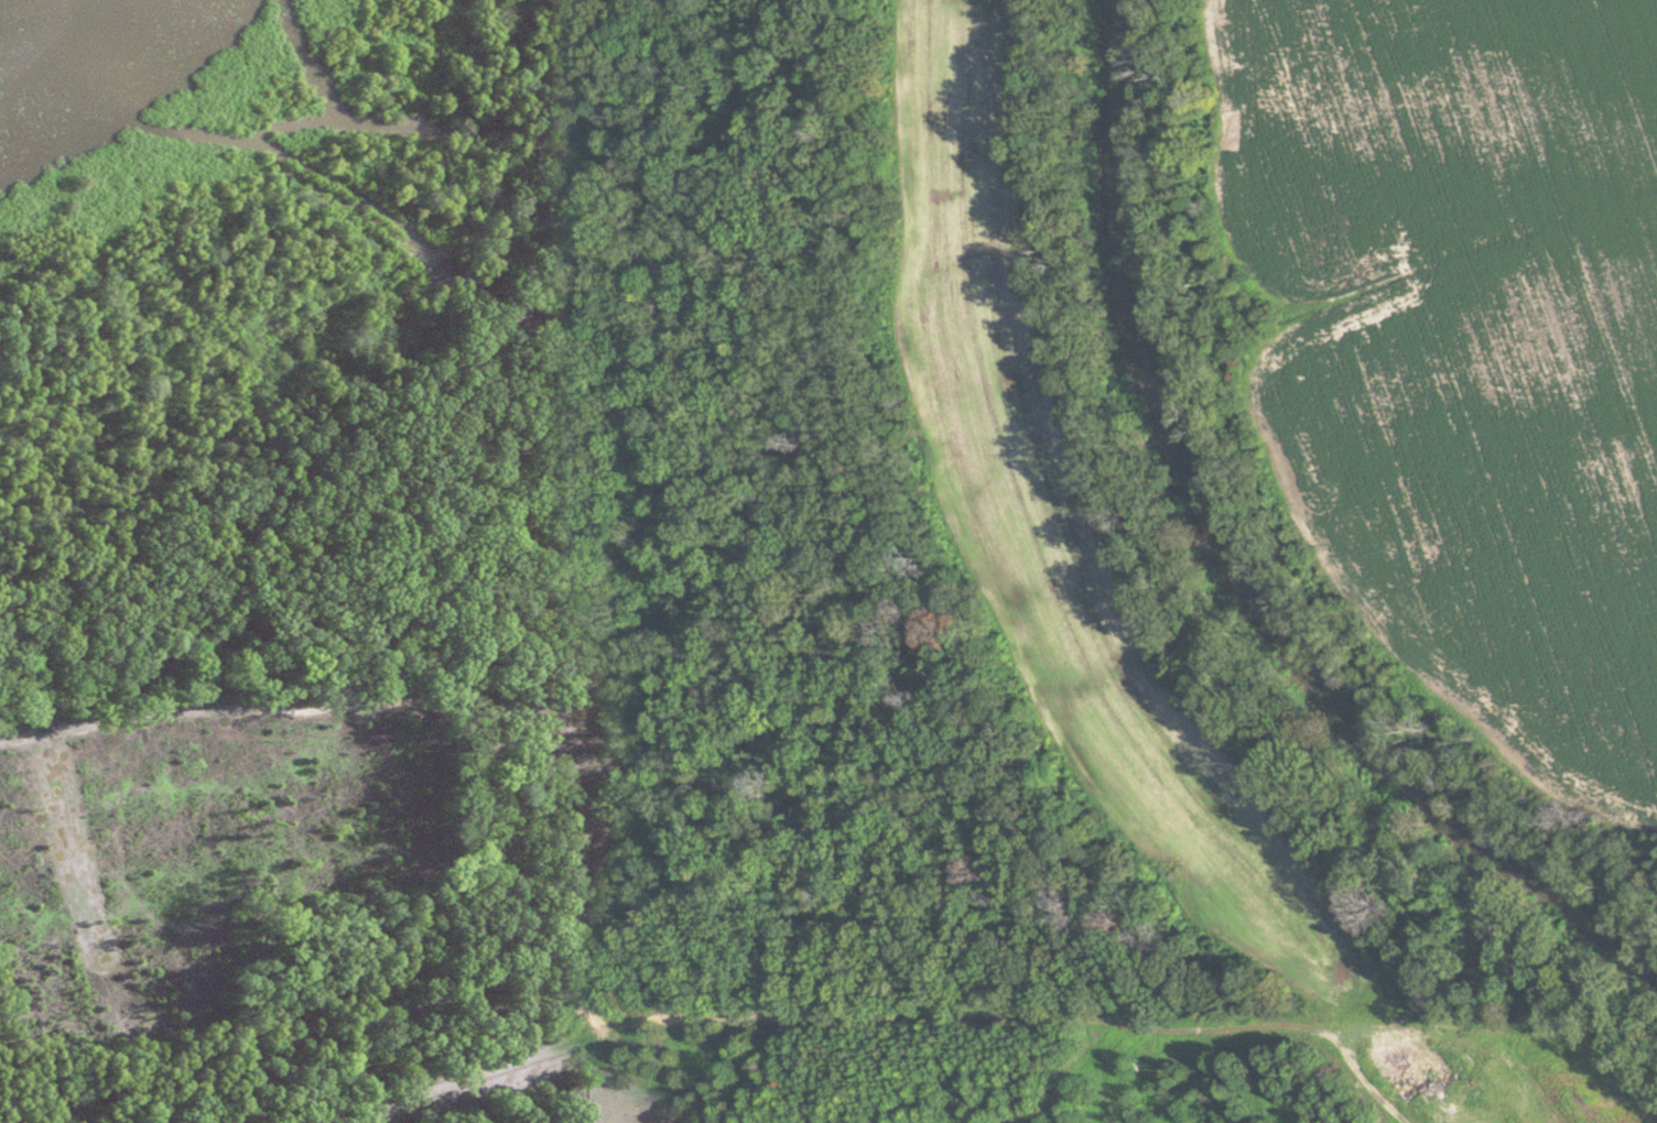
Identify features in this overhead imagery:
river: (1241, 575)

